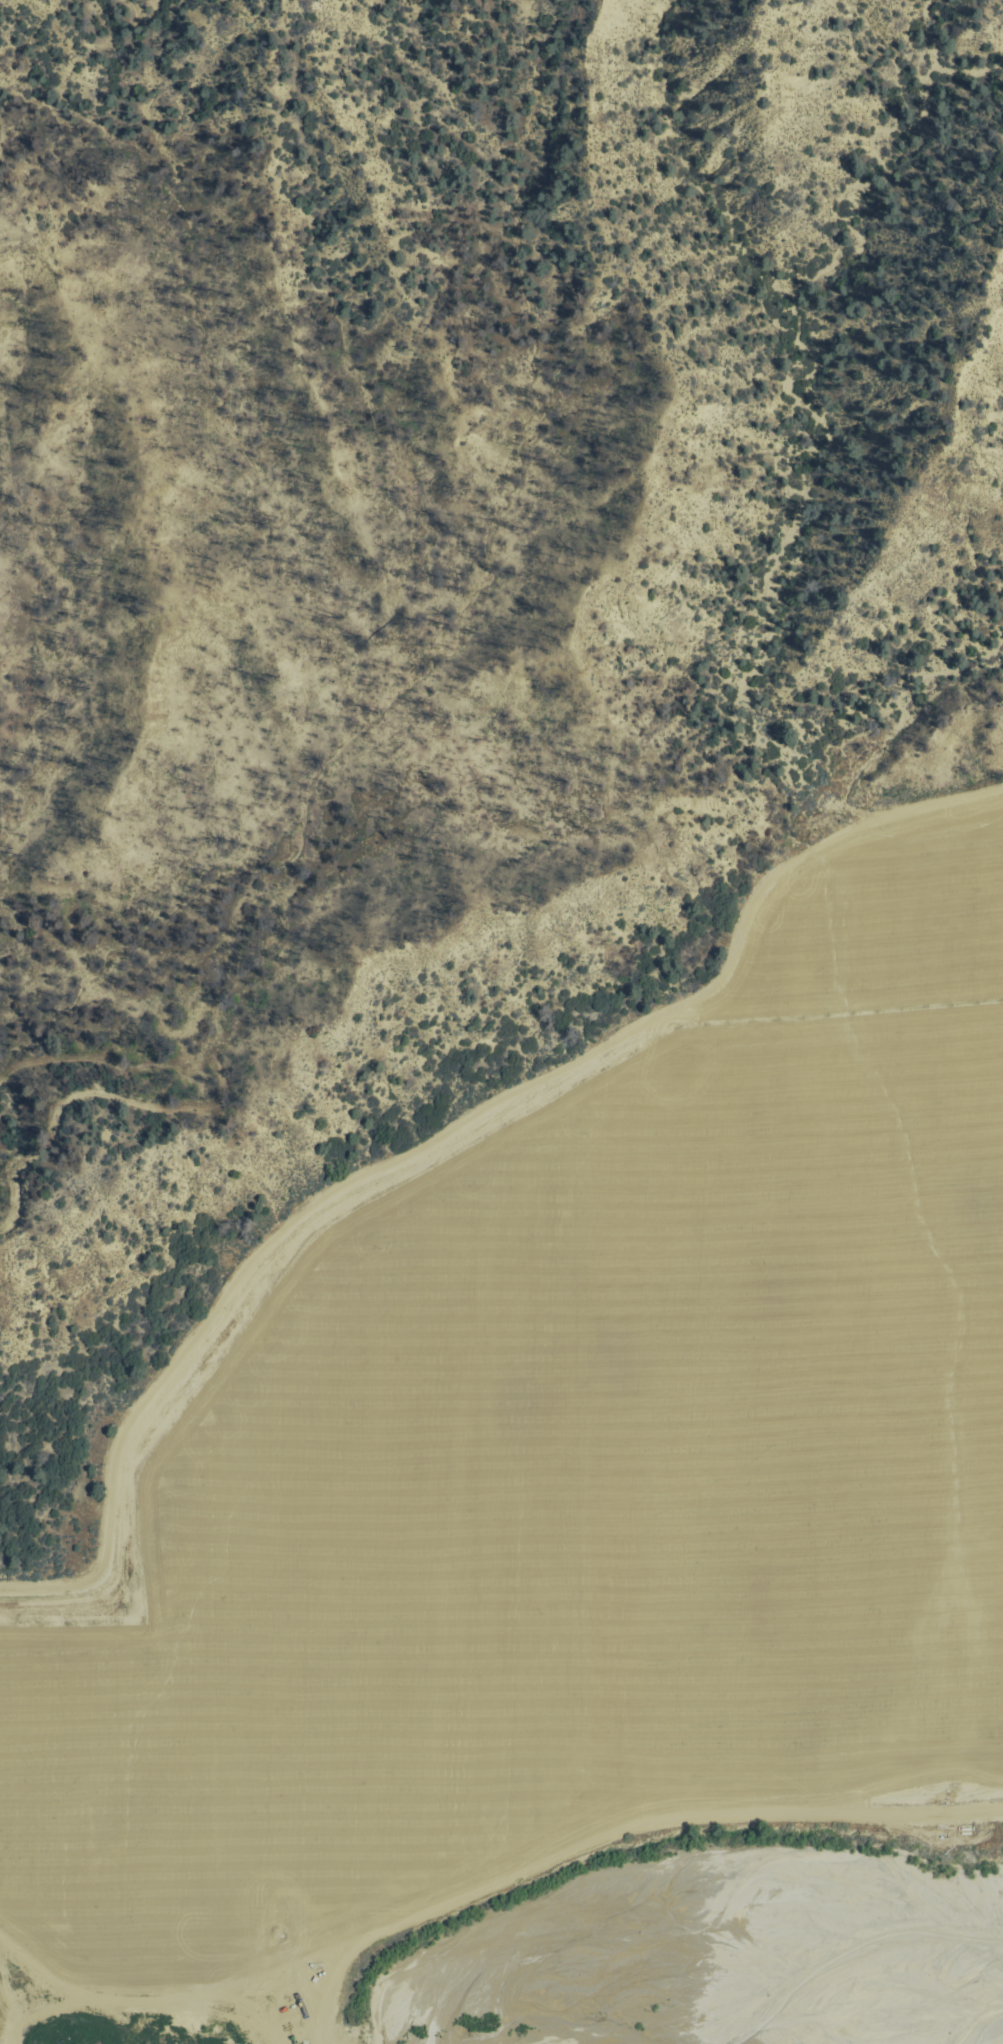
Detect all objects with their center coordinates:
road: (943, 1823)

